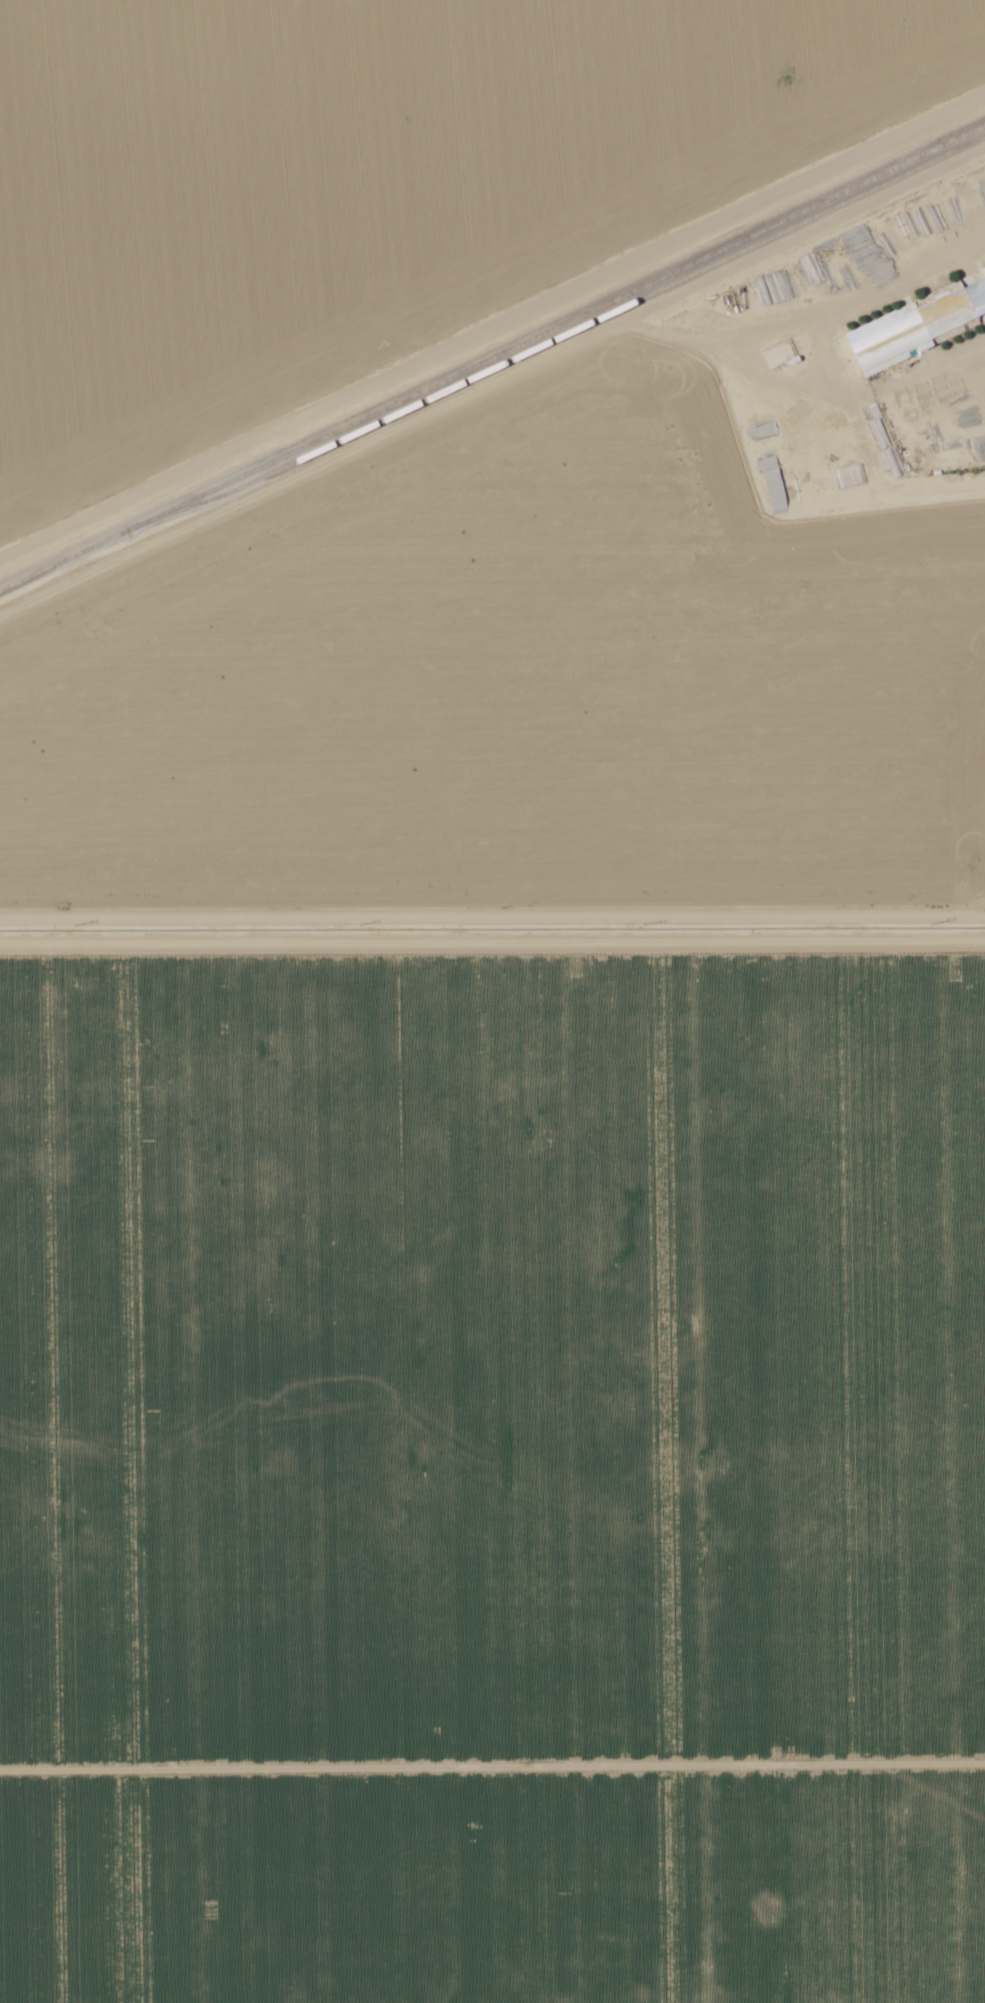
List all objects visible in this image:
crop: (386, 191)
building: (982, 277)
building: (976, 298)
railway: (576, 330)
building: (907, 331)
road: (492, 341)
railway: (492, 349)
railway: (492, 359)
crop: (565, 632)
road: (492, 924)
crop: (493, 1470)

